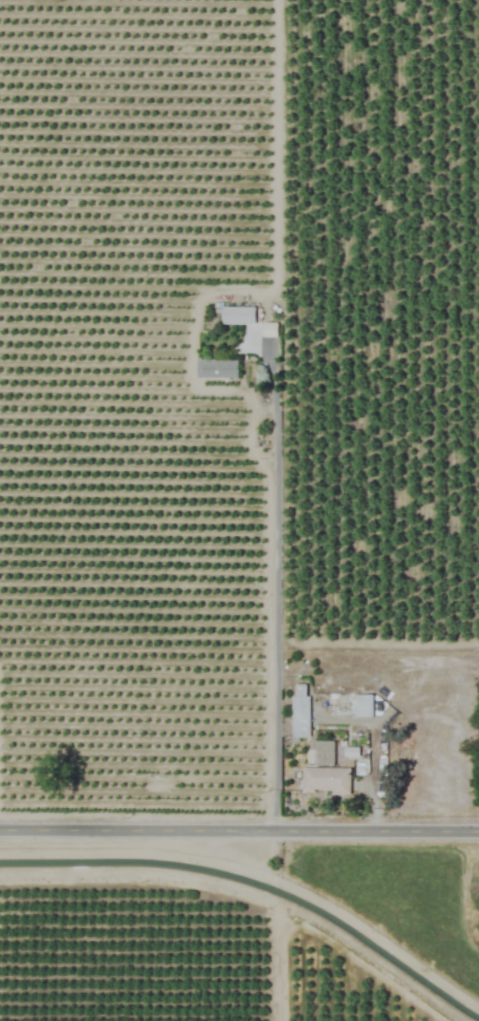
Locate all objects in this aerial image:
building: (237, 315)
building: (217, 368)
road: (275, 580)
building: (363, 705)
building: (300, 712)
building: (323, 753)
building: (325, 781)
road: (239, 830)

